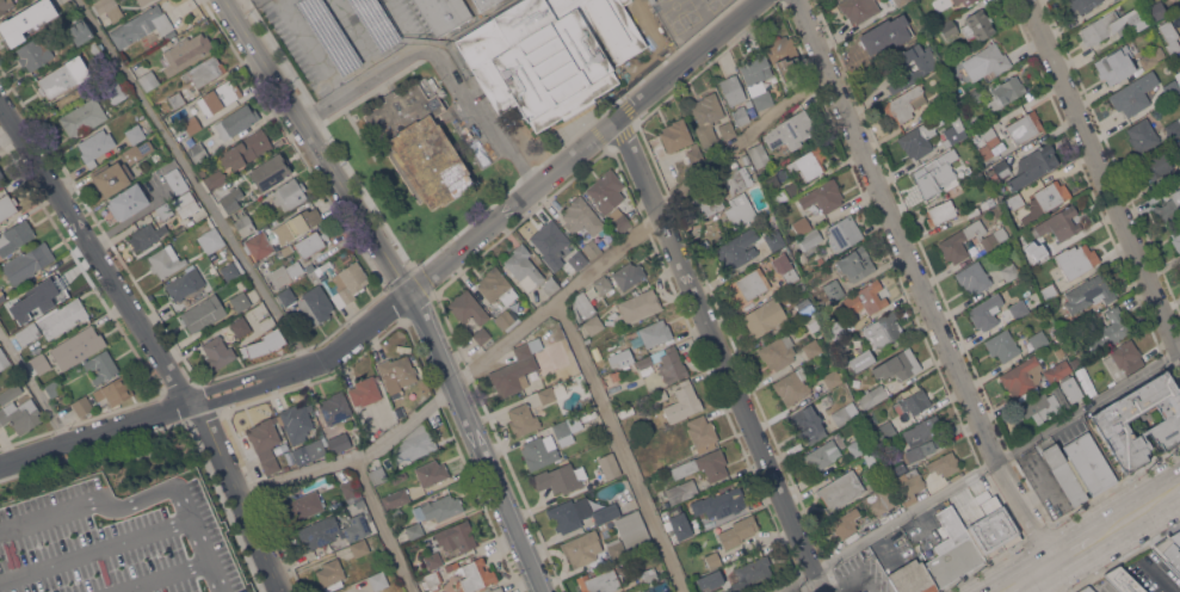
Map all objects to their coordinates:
building: (143, 1)
building: (957, 1)
building: (968, 1)
building: (481, 2)
building: (655, 2)
building: (901, 2)
building: (1083, 4)
building: (5, 5)
building: (67, 7)
building: (109, 8)
building: (858, 8)
building: (1157, 10)
building: (441, 14)
building: (376, 23)
road: (406, 24)
building: (978, 24)
building: (1112, 24)
building: (142, 26)
building: (14, 27)
building: (912, 29)
building: (949, 29)
building: (80, 32)
building: (330, 35)
building: (878, 36)
building: (1170, 36)
road: (313, 49)
building: (37, 50)
building: (93, 50)
building: (187, 51)
building: (550, 55)
building: (784, 56)
building: (1151, 57)
road: (438, 60)
building: (983, 63)
building: (1117, 63)
building: (204, 72)
building: (1178, 75)
building: (913, 76)
building: (149, 80)
building: (756, 80)
building: (57, 81)
building: (433, 82)
building: (733, 90)
building: (960, 91)
building: (115, 92)
building: (441, 92)
building: (1006, 92)
building: (1164, 92)
building: (975, 95)
building: (220, 97)
road: (70, 98)
building: (1129, 99)
building: (177, 100)
building: (916, 103)
building: (741, 115)
building: (84, 117)
building: (706, 117)
building: (237, 122)
building: (192, 124)
building: (796, 127)
building: (1024, 127)
building: (1173, 128)
building: (728, 129)
building: (956, 132)
building: (988, 132)
road: (8, 134)
building: (135, 134)
building: (675, 135)
building: (920, 136)
building: (1142, 136)
building: (419, 143)
building: (95, 146)
building: (246, 149)
building: (138, 150)
building: (198, 152)
building: (987, 152)
building: (758, 155)
building: (694, 156)
building: (807, 164)
building: (1153, 165)
building: (1032, 166)
building: (935, 167)
building: (999, 171)
building: (270, 172)
building: (962, 172)
road: (1102, 175)
building: (1, 178)
building: (110, 178)
building: (737, 178)
building: (215, 179)
building: (177, 180)
road: (196, 181)
building: (606, 191)
building: (290, 193)
building: (780, 196)
building: (823, 196)
building: (231, 198)
building: (708, 201)
building: (1017, 201)
building: (1044, 201)
building: (128, 202)
building: (987, 203)
building: (186, 204)
building: (7, 205)
building: (1170, 206)
building: (163, 210)
building: (741, 210)
building: (972, 211)
building: (941, 212)
building: (581, 217)
building: (243, 222)
building: (620, 222)
building: (1061, 223)
building: (297, 224)
building: (807, 233)
building: (844, 233)
building: (147, 235)
building: (16, 236)
building: (549, 238)
building: (774, 239)
building: (1176, 239)
building: (993, 240)
building: (311, 243)
building: (214, 245)
building: (259, 245)
building: (569, 245)
building: (591, 248)
road: (95, 249)
building: (286, 249)
building: (737, 249)
building: (1040, 253)
building: (577, 260)
building: (1077, 260)
building: (166, 261)
building: (27, 263)
building: (855, 263)
building: (1179, 265)
building: (524, 266)
building: (785, 267)
building: (229, 270)
building: (1009, 271)
building: (285, 273)
building: (628, 275)
building: (974, 277)
building: (341, 280)
building: (185, 283)
road: (919, 283)
building: (603, 284)
road: (404, 285)
building: (496, 285)
building: (551, 285)
building: (749, 285)
road: (410, 289)
building: (1050, 290)
building: (42, 292)
building: (830, 292)
building: (1089, 292)
building: (286, 296)
building: (520, 298)
building: (866, 298)
building: (241, 301)
building: (316, 304)
building: (640, 304)
building: (582, 306)
building: (805, 307)
building: (468, 308)
road: (548, 308)
building: (1018, 308)
building: (260, 312)
building: (987, 312)
building: (203, 313)
building: (249, 317)
building: (764, 317)
building: (63, 319)
building: (507, 320)
building: (8, 321)
building: (813, 323)
building: (593, 325)
building: (241, 326)
building: (836, 328)
building: (884, 329)
building: (1108, 331)
building: (29, 333)
building: (655, 333)
building: (482, 335)
building: (1038, 339)
building: (265, 343)
building: (1002, 345)
building: (75, 346)
building: (813, 349)
building: (778, 351)
building: (218, 352)
building: (1059, 352)
road: (722, 354)
building: (624, 357)
building: (1126, 357)
building: (4, 359)
building: (861, 359)
building: (38, 362)
building: (644, 362)
building: (101, 365)
building: (672, 365)
building: (898, 365)
building: (1111, 368)
building: (514, 370)
building: (1057, 371)
building: (397, 372)
building: (617, 376)
building: (833, 378)
building: (1023, 378)
building: (792, 386)
road: (32, 389)
building: (54, 389)
building: (115, 390)
building: (365, 390)
building: (11, 393)
building: (550, 393)
building: (660, 395)
building: (872, 395)
building: (1052, 400)
building: (916, 401)
building: (684, 402)
building: (82, 406)
building: (335, 407)
building: (626, 411)
building: (845, 413)
building: (20, 415)
building: (524, 419)
building: (297, 421)
building: (808, 424)
building: (1108, 425)
building: (567, 428)
building: (702, 432)
building: (883, 432)
building: (371, 437)
building: (925, 438)
building: (339, 442)
building: (266, 443)
building: (415, 443)
road: (623, 445)
building: (855, 448)
building: (309, 451)
building: (539, 451)
building: (822, 455)
building: (873, 456)
building: (944, 463)
building: (1089, 463)
building: (608, 465)
building: (704, 465)
building: (897, 469)
road: (977, 469)
building: (1062, 469)
building: (431, 473)
building: (377, 474)
building: (399, 476)
building: (954, 476)
building: (561, 477)
building: (348, 487)
building: (840, 489)
building: (681, 491)
building: (895, 492)
road: (1037, 492)
road: (239, 493)
building: (395, 498)
road: (142, 499)
building: (360, 502)
building: (723, 502)
road: (1154, 502)
building: (305, 505)
building: (441, 507)
building: (580, 513)
building: (677, 522)
building: (846, 522)
road: (382, 524)
building: (697, 525)
building: (356, 526)
building: (993, 526)
building: (632, 529)
building: (415, 530)
building: (320, 531)
building: (737, 531)
building: (457, 536)
building: (1175, 537)
road: (1093, 538)
parking lot: (115, 541)
building: (614, 544)
building: (359, 547)
road: (94, 548)
building: (582, 548)
building: (952, 550)
building: (1168, 550)
building: (713, 559)
building: (433, 560)
building: (750, 572)
building: (330, 574)
building: (472, 574)
building: (650, 575)
road: (1031, 575)
road: (161, 576)
building: (715, 578)
building: (912, 578)
building: (378, 579)
building: (432, 580)
building: (1123, 580)
building: (600, 581)
road: (1037, 585)
building: (1086, 588)
building: (496, 590)
building: (365, 591)
building: (863, 591)
building: (865, 591)

